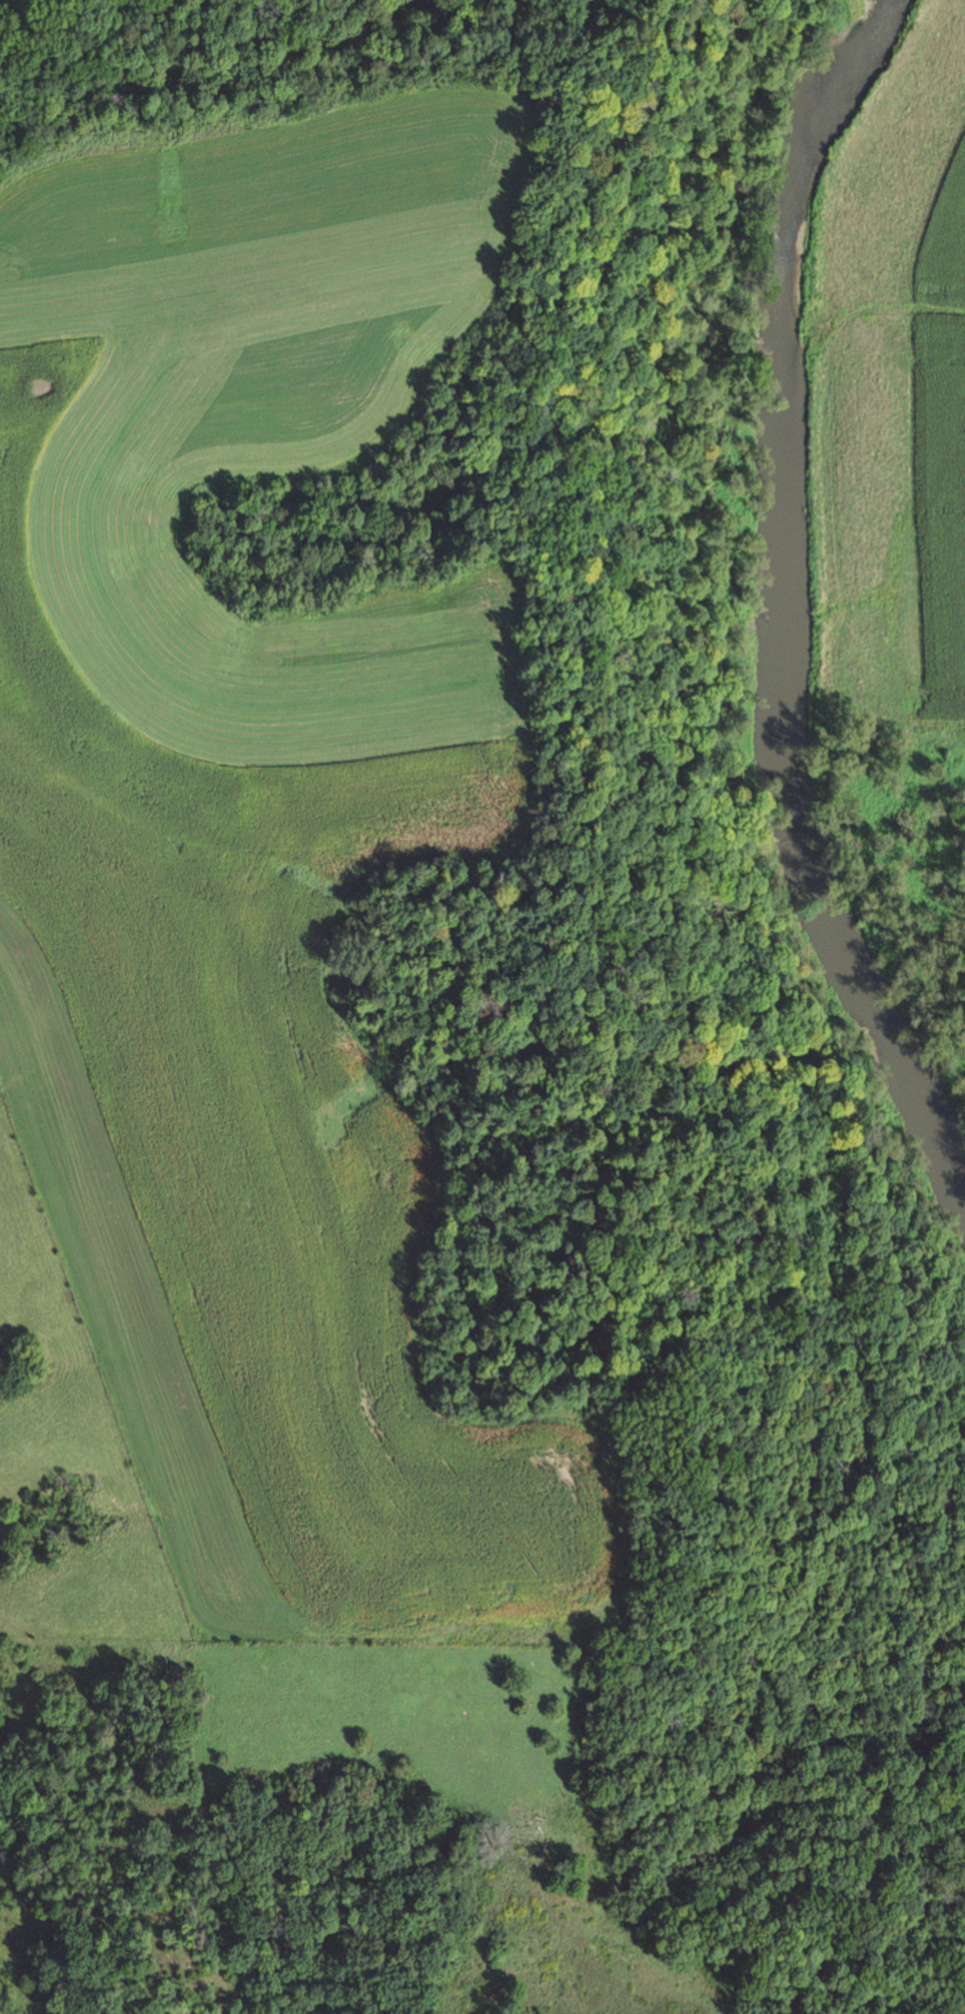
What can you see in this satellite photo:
river: (782, 627)

